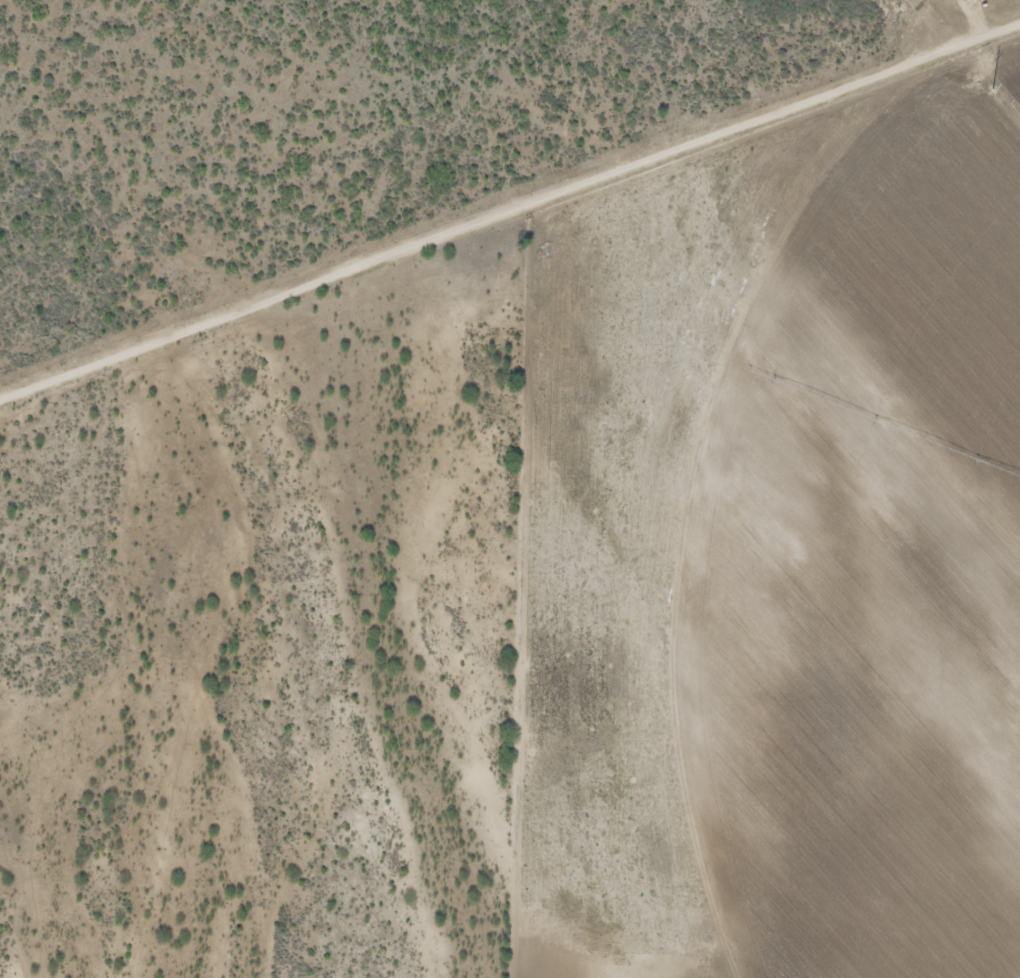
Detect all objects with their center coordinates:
power tower: (996, 97)

